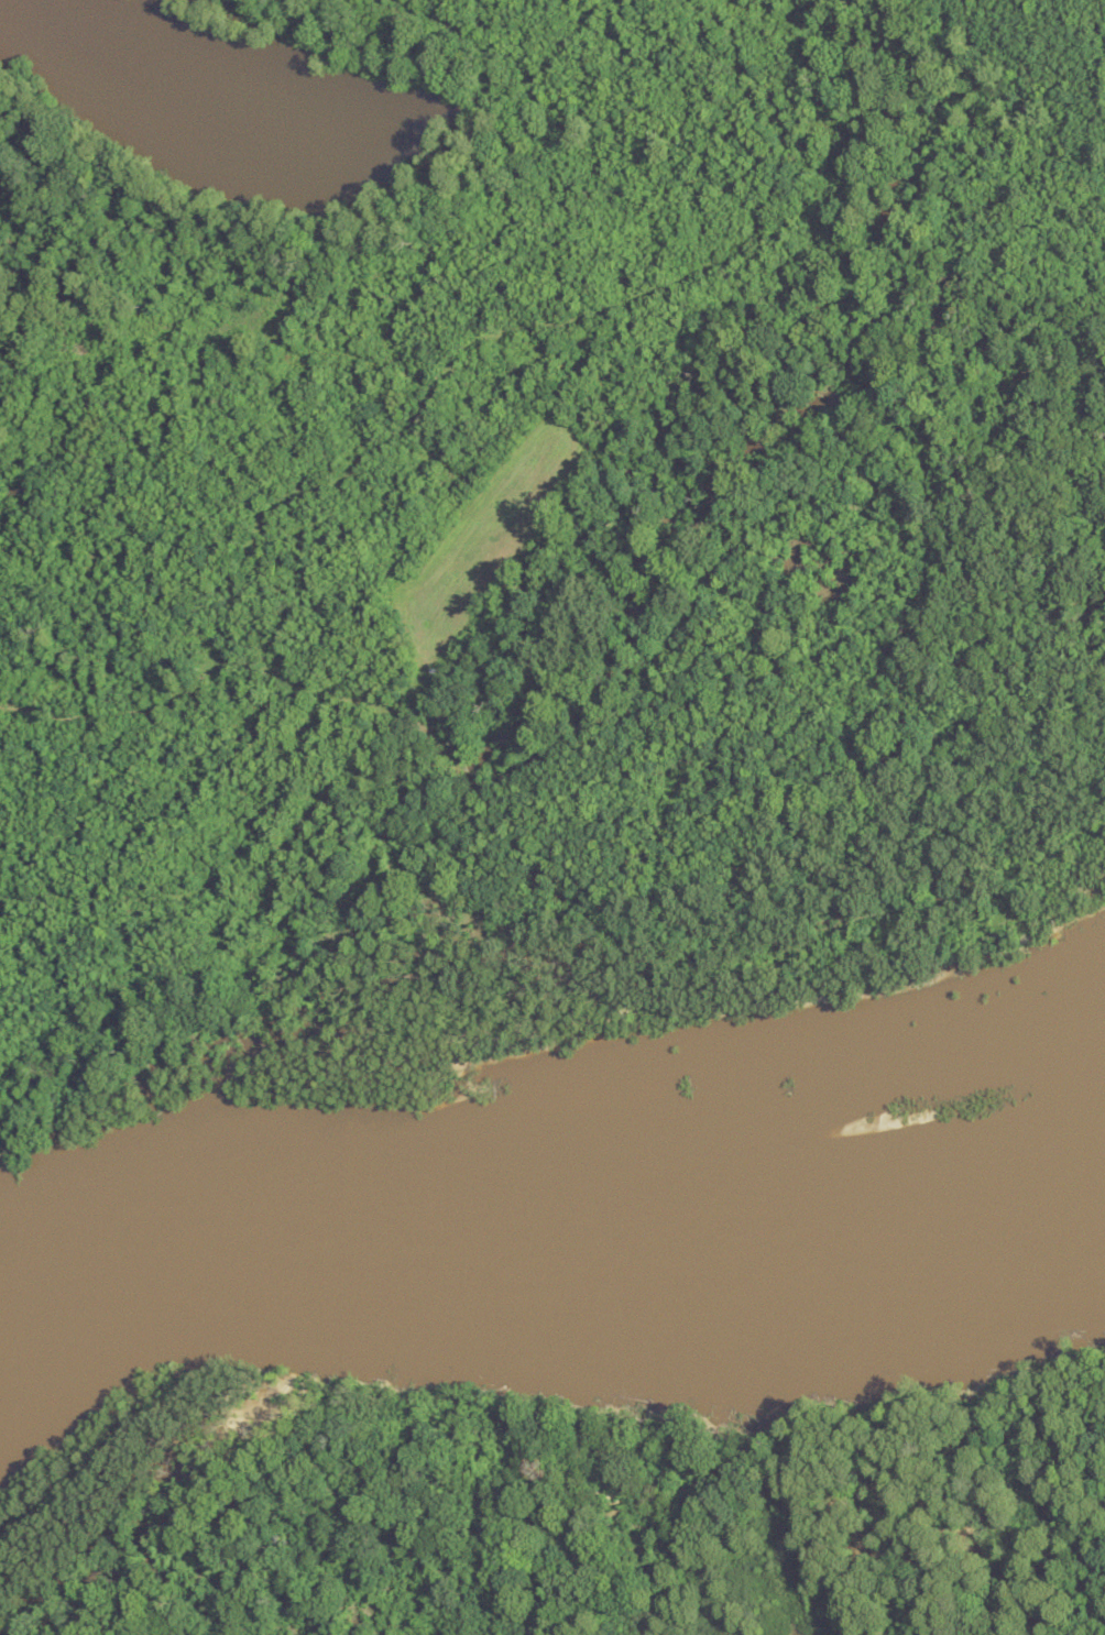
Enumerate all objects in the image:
river: (539, 1189)

